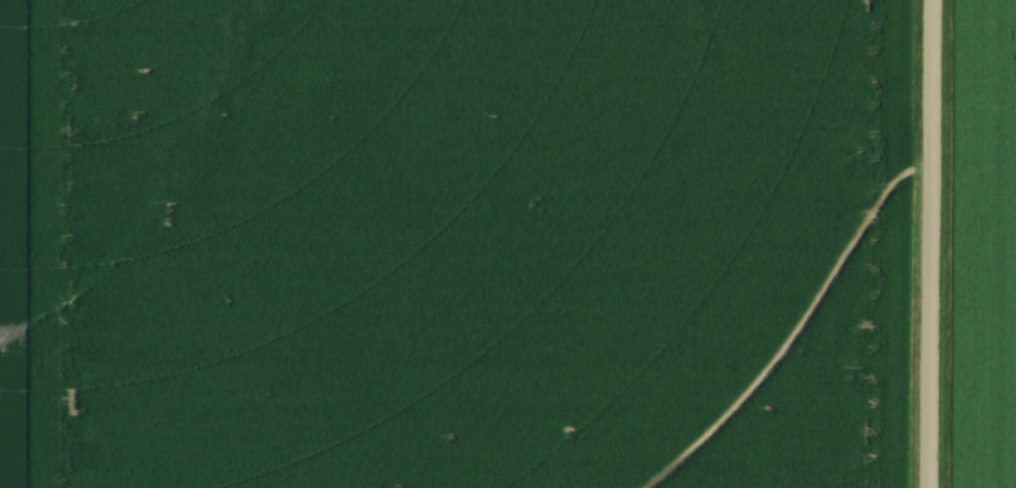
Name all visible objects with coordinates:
road: (928, 244)

